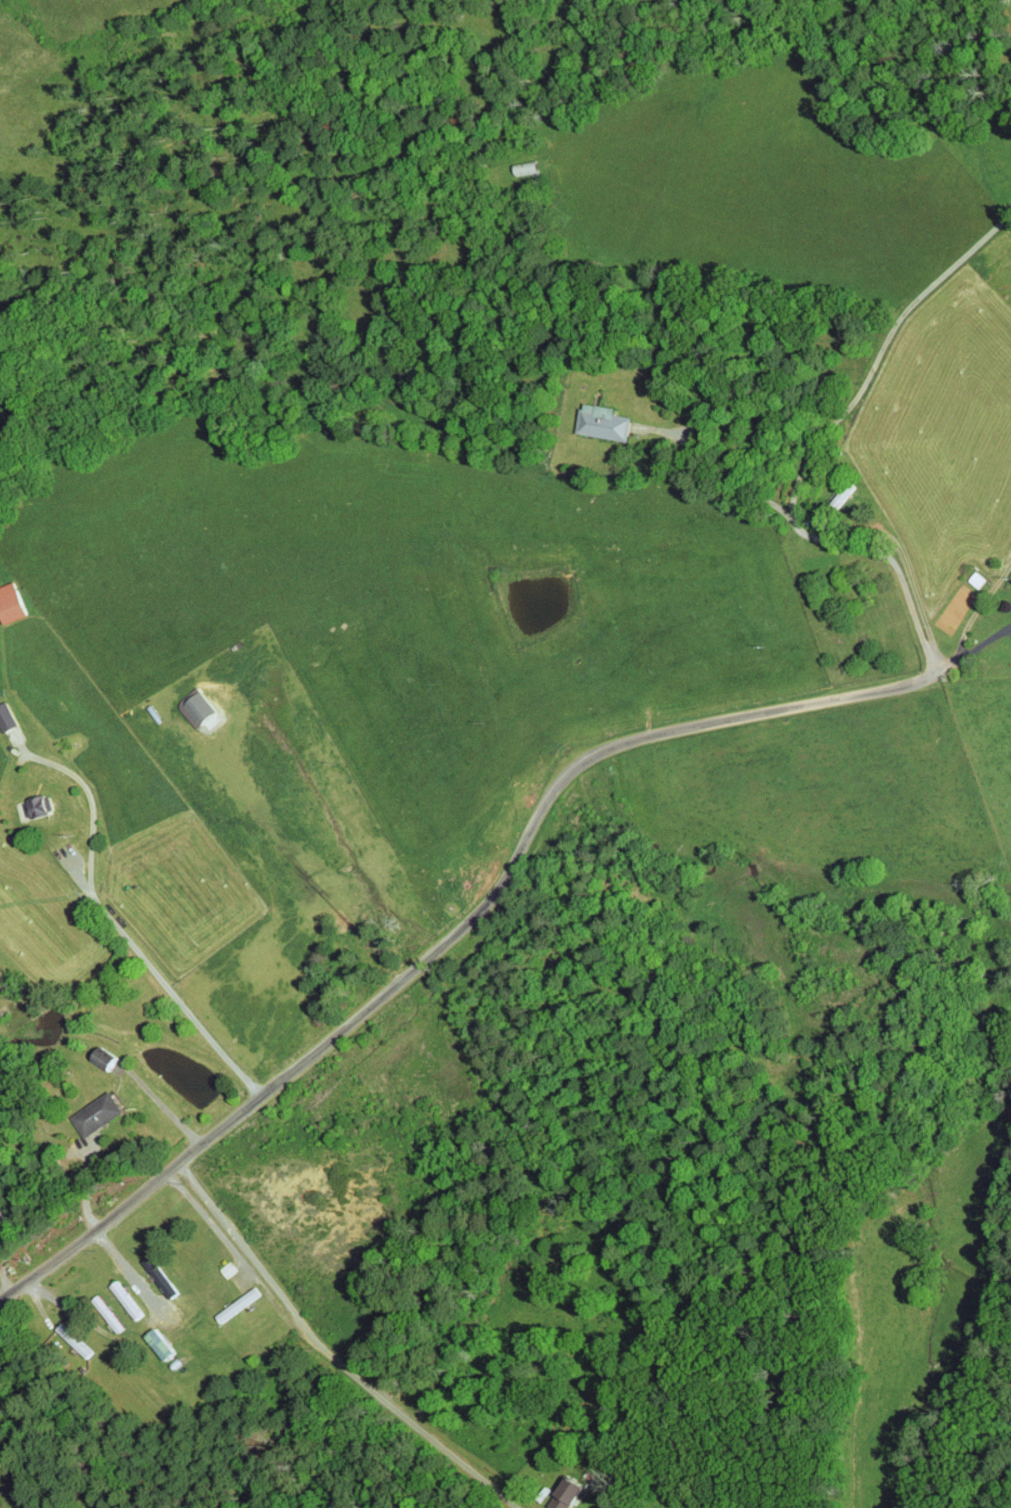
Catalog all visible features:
road: (765, 282)
road: (847, 420)
road: (805, 535)
road: (86, 783)
road: (300, 868)
road: (501, 884)
road: (165, 985)
road: (126, 1267)
road: (323, 1350)

